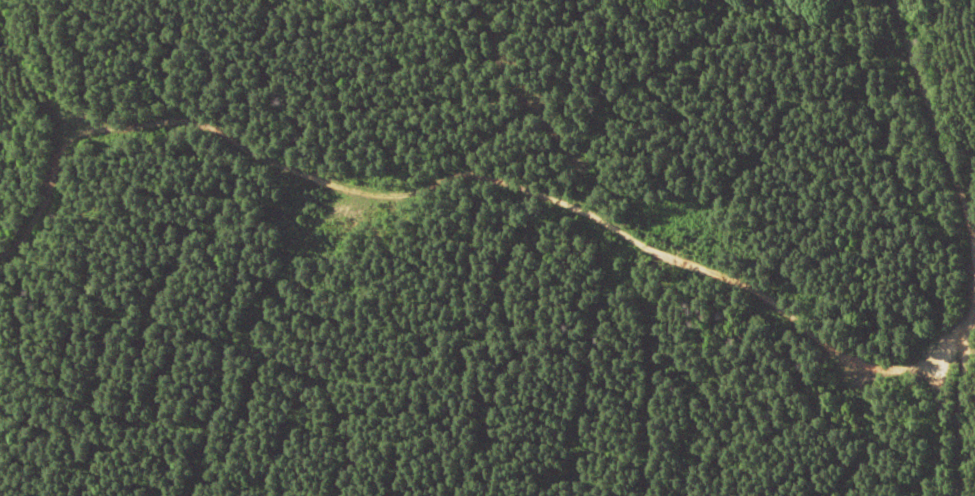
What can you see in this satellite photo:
road: (950, 48)
road: (974, 495)

